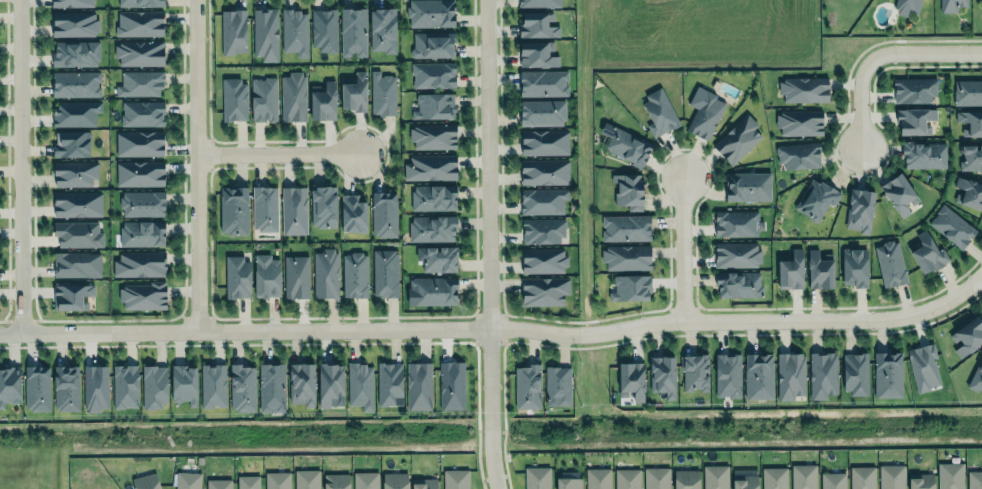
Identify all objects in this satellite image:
building: (140, 2)
building: (73, 3)
building: (539, 3)
building: (951, 5)
building: (906, 6)
building: (430, 13)
building: (137, 23)
building: (72, 24)
building: (538, 24)
building: (323, 29)
building: (383, 29)
building: (233, 31)
building: (354, 31)
building: (294, 32)
building: (265, 34)
building: (432, 44)
building: (139, 52)
building: (75, 53)
building: (538, 53)
road: (885, 53)
building: (433, 75)
building: (75, 83)
building: (140, 83)
building: (543, 83)
building: (803, 89)
building: (914, 89)
building: (353, 92)
building: (968, 92)
building: (382, 94)
building: (293, 96)
building: (234, 99)
building: (263, 99)
building: (323, 100)
building: (432, 105)
building: (542, 111)
building: (659, 111)
building: (702, 111)
building: (142, 112)
building: (75, 113)
building: (914, 120)
building: (800, 121)
building: (970, 122)
building: (433, 136)
building: (737, 138)
building: (544, 142)
building: (139, 143)
building: (72, 144)
building: (627, 147)
road: (277, 151)
building: (798, 154)
building: (923, 154)
building: (970, 157)
road: (197, 163)
road: (18, 165)
building: (431, 167)
building: (544, 171)
building: (74, 172)
building: (140, 173)
building: (748, 185)
building: (628, 191)
building: (969, 192)
building: (899, 193)
building: (433, 197)
building: (816, 198)
building: (543, 200)
building: (142, 203)
building: (77, 204)
building: (323, 206)
building: (264, 207)
building: (233, 209)
building: (294, 209)
building: (860, 209)
building: (352, 214)
building: (384, 214)
building: (736, 222)
building: (951, 226)
building: (432, 227)
building: (626, 227)
building: (542, 229)
building: (78, 233)
building: (141, 233)
road: (682, 241)
road: (488, 244)
building: (928, 253)
building: (736, 254)
building: (626, 257)
building: (440, 259)
building: (544, 259)
building: (139, 264)
building: (890, 264)
building: (76, 265)
building: (854, 267)
building: (820, 269)
building: (791, 270)
building: (385, 272)
building: (325, 273)
building: (355, 274)
building: (237, 276)
building: (266, 276)
building: (296, 276)
building: (739, 283)
building: (630, 287)
building: (434, 290)
building: (545, 290)
building: (142, 295)
building: (72, 296)
road: (496, 326)
building: (968, 335)
building: (923, 366)
building: (695, 372)
building: (856, 373)
building: (822, 374)
building: (888, 374)
building: (663, 375)
building: (727, 375)
building: (758, 375)
building: (790, 376)
building: (976, 376)
building: (631, 380)
building: (388, 382)
building: (302, 383)
building: (183, 384)
building: (330, 384)
building: (213, 385)
building: (360, 385)
building: (418, 385)
building: (451, 385)
building: (557, 385)
building: (9, 386)
building: (124, 386)
building: (154, 386)
building: (527, 386)
building: (66, 387)
building: (95, 387)
building: (271, 387)
building: (37, 388)
building: (242, 388)
building: (803, 475)
building: (950, 475)
building: (715, 476)
building: (892, 476)
building: (598, 477)
building: (626, 477)
building: (774, 477)
building: (862, 477)
building: (537, 478)
building: (656, 478)
building: (685, 478)
building: (306, 479)
building: (455, 479)
building: (833, 479)
building: (974, 479)
building: (187, 480)
building: (277, 480)
building: (366, 480)
building: (395, 480)
building: (921, 480)
building: (248, 481)
building: (336, 481)
building: (745, 481)
building: (145, 482)
building: (568, 482)
building: (424, 483)
building: (218, 484)

